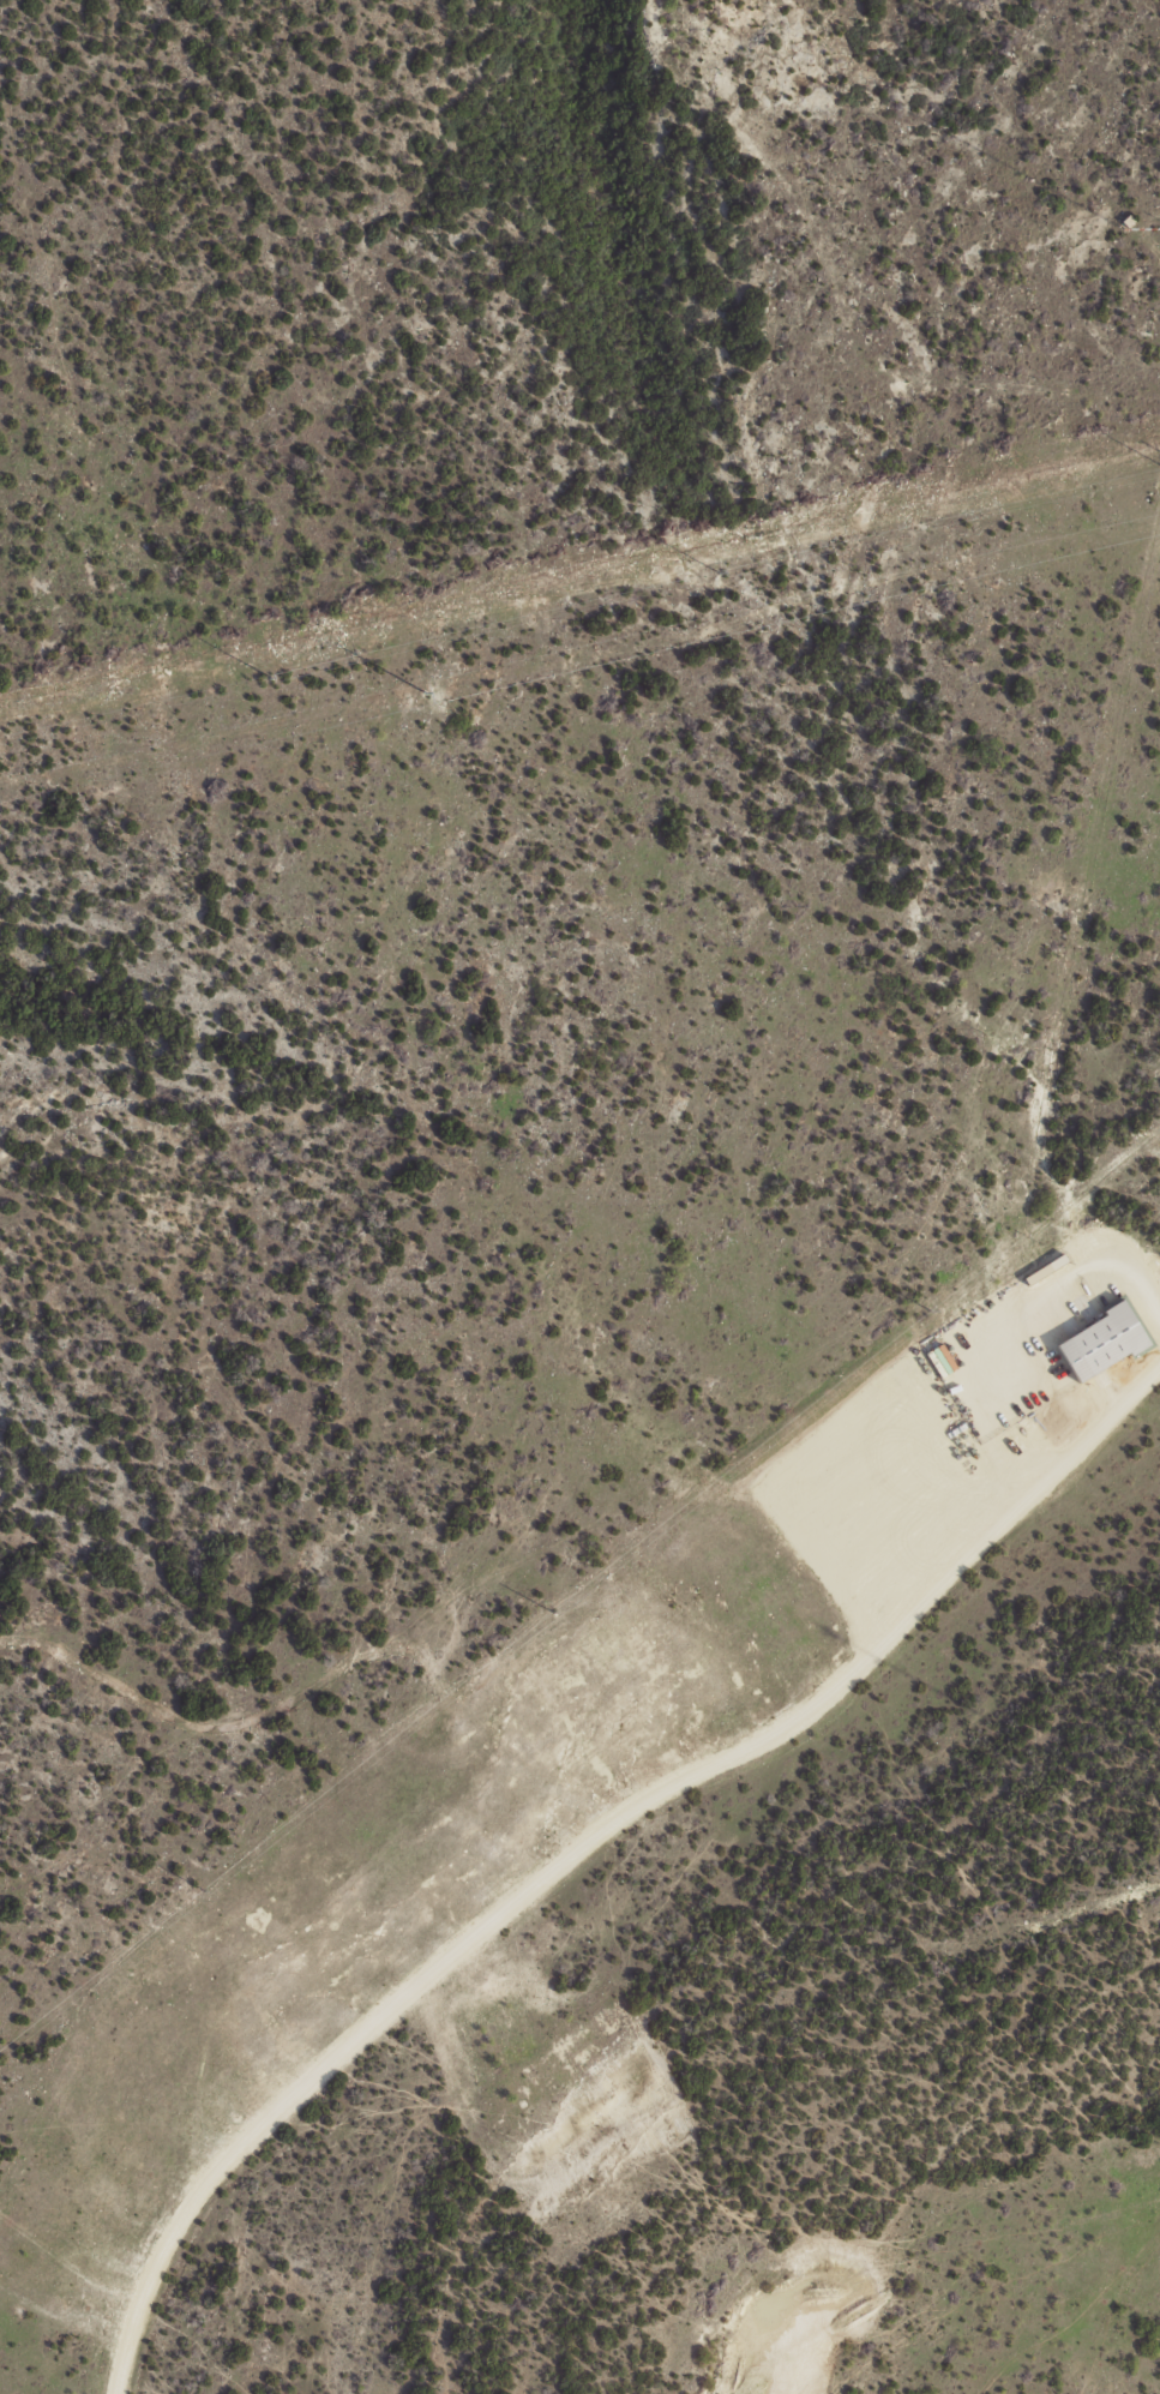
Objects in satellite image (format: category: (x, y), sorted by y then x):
power tower: (717, 571)
power tower: (268, 677)
power tower: (422, 694)
road: (588, 1190)
power tower: (930, 1308)
building: (942, 1357)
power tower: (554, 1612)
road: (583, 1838)
power tower: (204, 1891)

